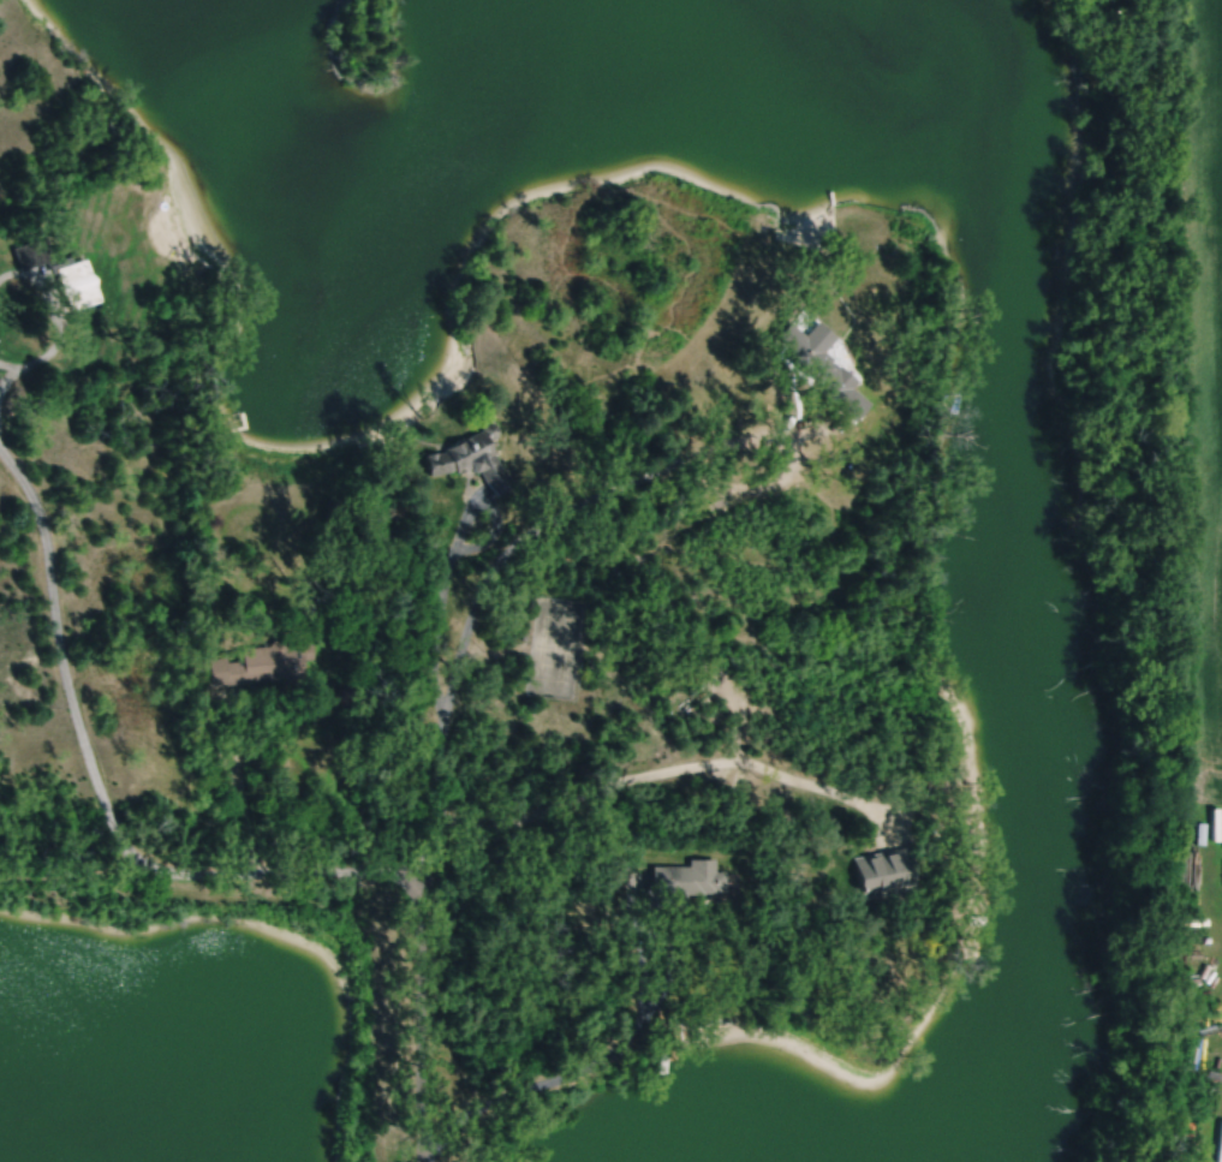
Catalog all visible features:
building: (839, 245)
building: (29, 250)
building: (71, 279)
road: (59, 320)
building: (819, 364)
road: (10, 375)
road: (791, 451)
building: (471, 457)
building: (393, 466)
road: (451, 559)
park: (555, 646)
building: (258, 662)
road: (236, 726)
road: (436, 767)
road: (670, 768)
road: (101, 793)
building: (1216, 830)
building: (881, 871)
road: (71, 872)
building: (679, 882)
building: (974, 918)
road: (618, 1045)

